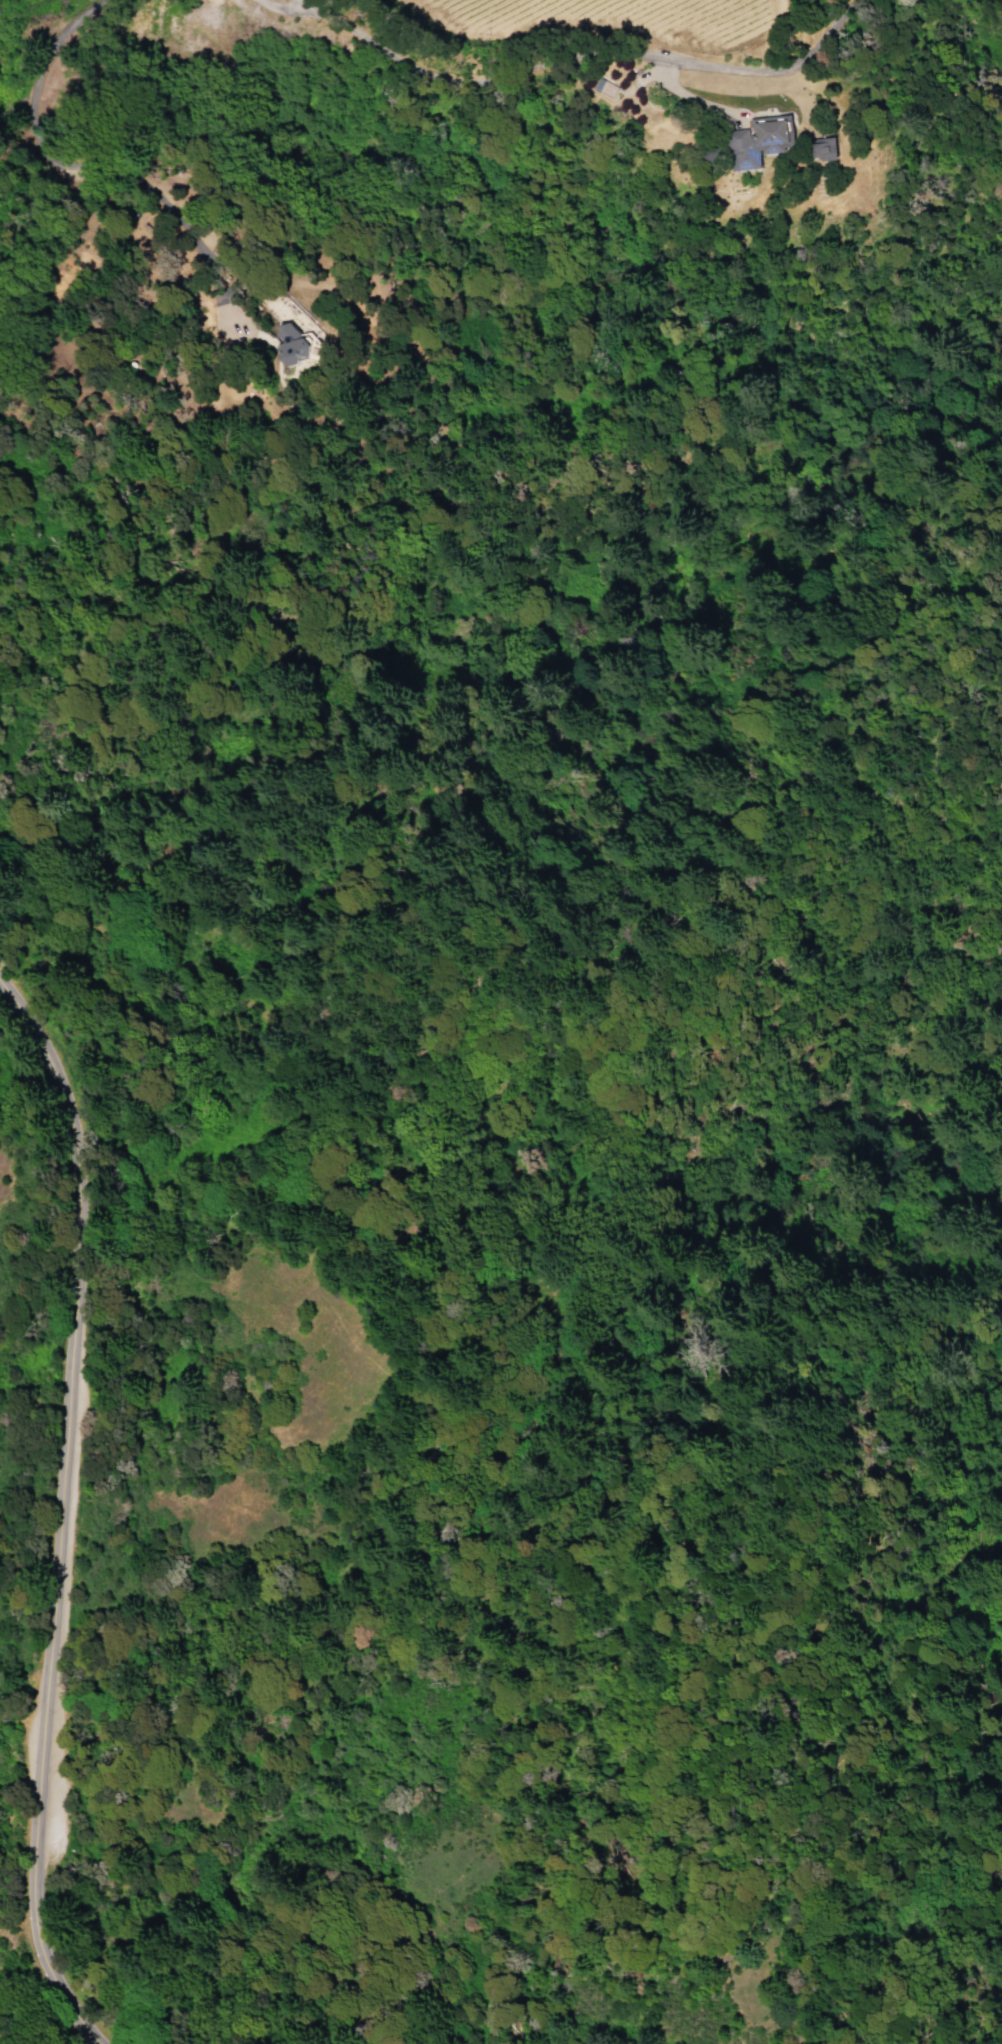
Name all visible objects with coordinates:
road: (280, 2)
crop: (609, 46)
road: (576, 55)
road: (693, 94)
building: (749, 145)
building: (821, 149)
road: (94, 167)
building: (294, 346)
road: (60, 1516)

